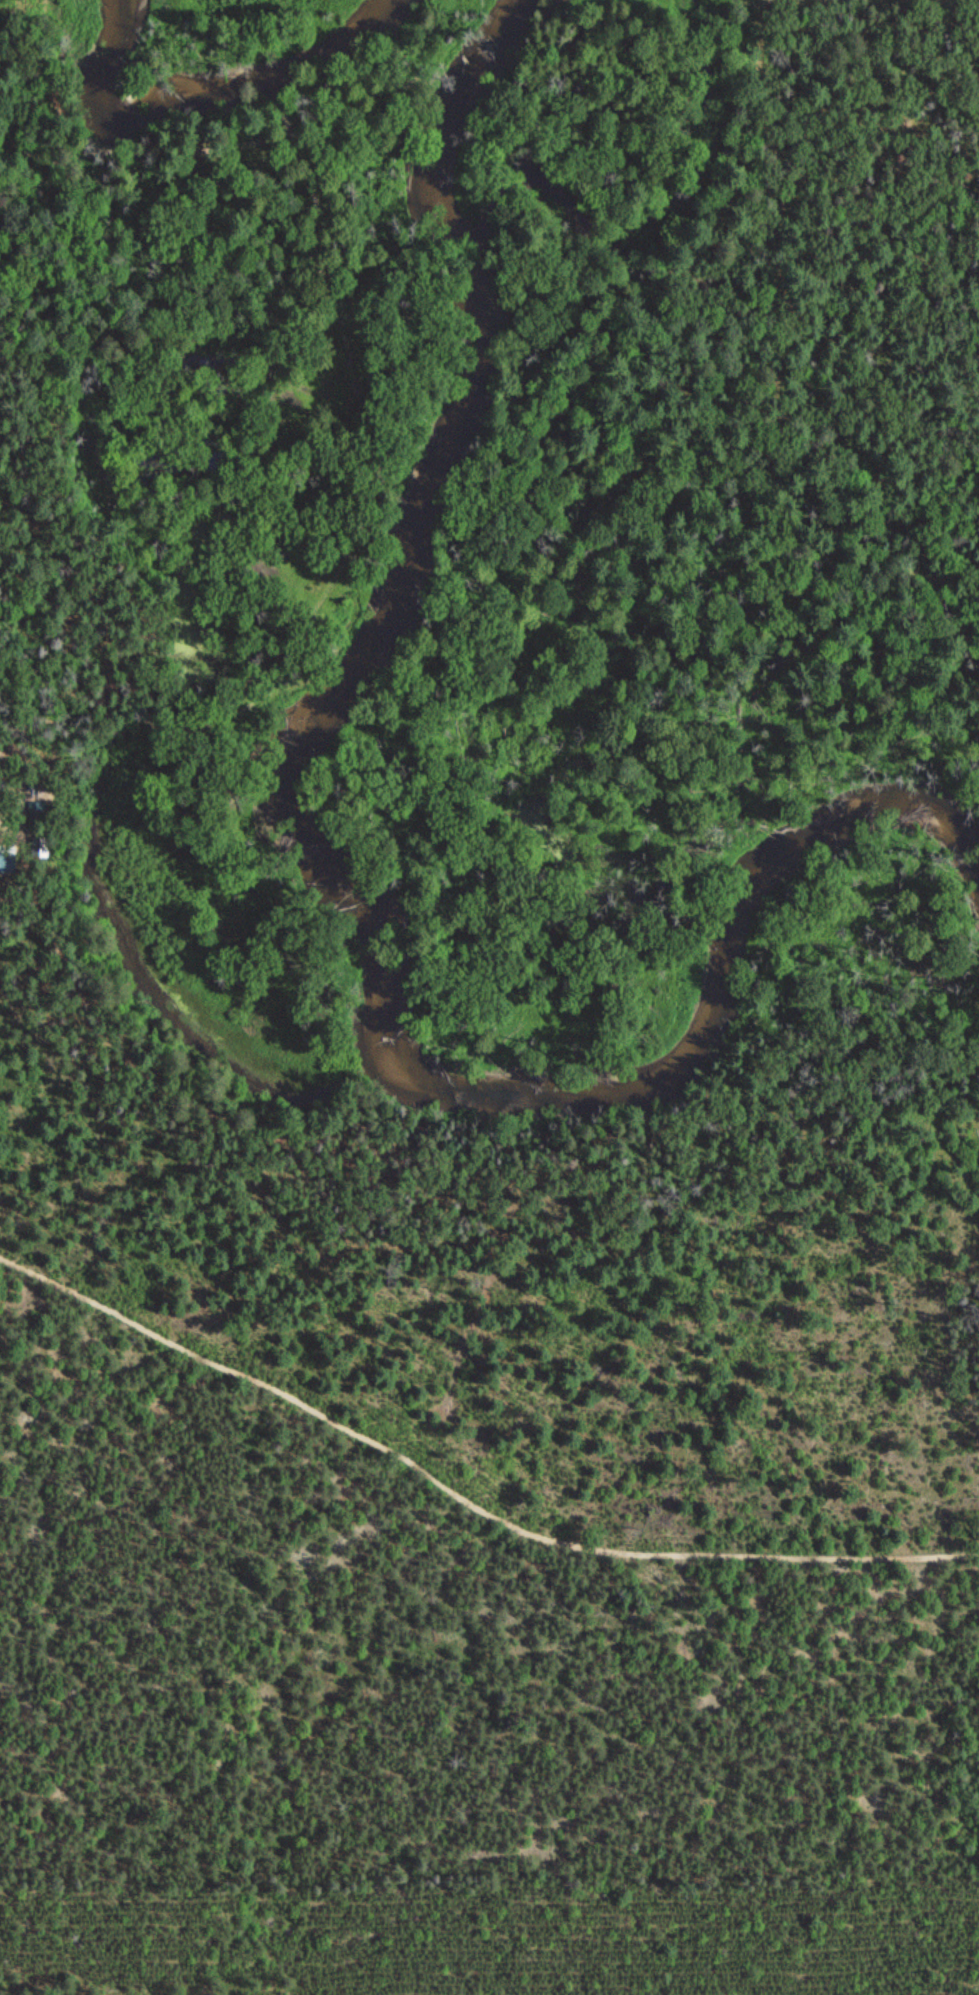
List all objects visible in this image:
river: (202, 103)
building: (37, 819)
river: (326, 874)
road: (463, 1497)

